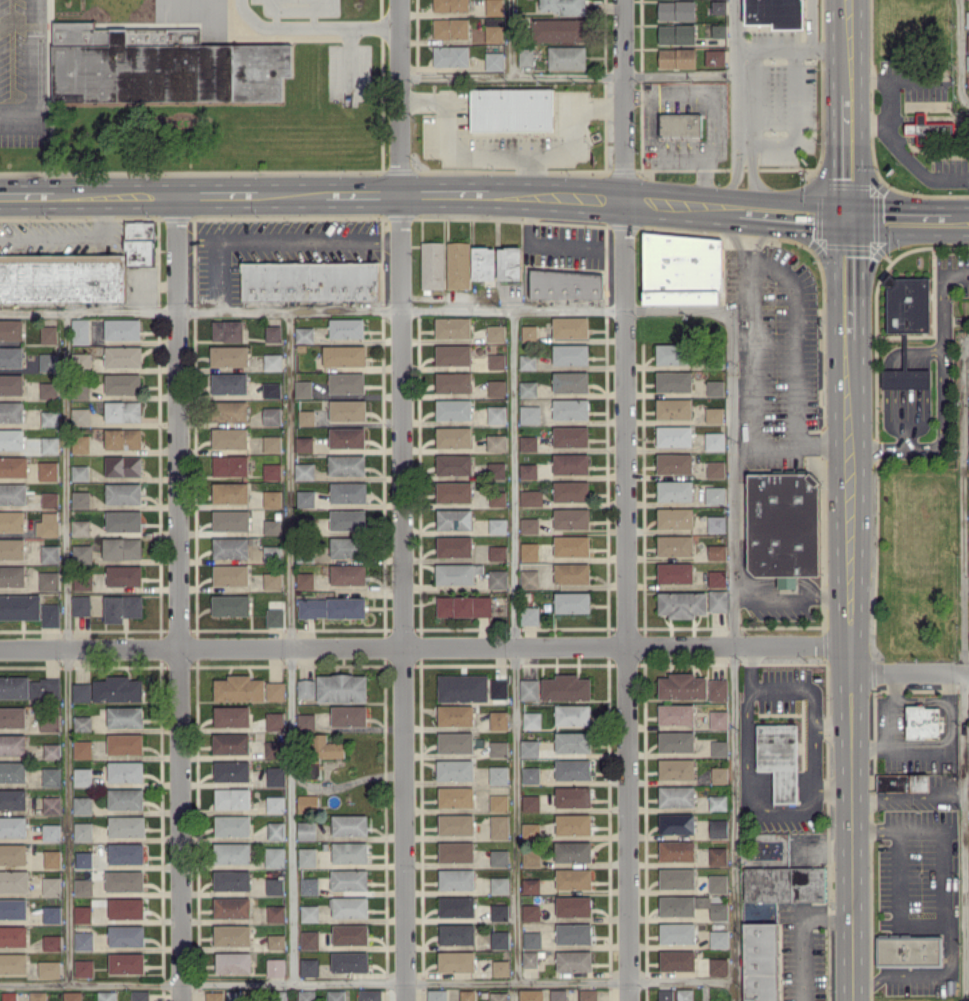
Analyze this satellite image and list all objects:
building: (450, 5)
road: (290, 6)
building: (564, 6)
building: (494, 7)
building: (676, 10)
building: (775, 11)
road: (313, 12)
road: (274, 16)
building: (967, 18)
road: (809, 24)
road: (313, 25)
building: (450, 27)
building: (490, 29)
building: (559, 29)
building: (718, 30)
building: (677, 33)
road: (511, 37)
building: (967, 42)
road: (845, 47)
road: (790, 48)
road: (959, 51)
road: (347, 54)
building: (450, 55)
road: (35, 56)
building: (525, 56)
building: (566, 57)
building: (677, 57)
building: (715, 57)
building: (493, 60)
building: (967, 61)
building: (162, 65)
road: (560, 73)
road: (735, 73)
road: (893, 78)
road: (399, 97)
road: (753, 97)
road: (623, 99)
road: (887, 101)
road: (964, 103)
building: (512, 109)
road: (17, 112)
road: (795, 121)
building: (680, 124)
building: (929, 129)
road: (576, 130)
road: (903, 152)
road: (677, 153)
road: (456, 154)
road: (846, 159)
road: (731, 175)
road: (755, 178)
traffic signals: (872, 179)
road: (887, 190)
road: (448, 194)
road: (291, 195)
road: (362, 195)
road: (117, 196)
road: (218, 196)
road: (28, 197)
road: (619, 198)
road: (794, 215)
road: (893, 221)
road: (955, 221)
traffic signals: (846, 222)
road: (732, 234)
road: (70, 236)
road: (760, 237)
road: (196, 239)
road: (291, 239)
road: (383, 240)
building: (140, 242)
road: (551, 246)
traffic signals: (817, 248)
traffic signals: (878, 252)
road: (821, 258)
road: (872, 261)
building: (483, 263)
building: (509, 263)
building: (432, 264)
building: (458, 264)
building: (682, 268)
road: (215, 276)
building: (62, 277)
road: (846, 279)
building: (309, 280)
building: (566, 284)
building: (908, 304)
road: (364, 312)
building: (570, 326)
building: (346, 327)
building: (453, 327)
building: (122, 328)
building: (11, 329)
building: (80, 330)
building: (227, 330)
building: (272, 333)
building: (495, 333)
building: (529, 333)
road: (967, 333)
building: (48, 334)
building: (304, 334)
road: (792, 339)
building: (672, 353)
building: (453, 354)
building: (570, 354)
building: (123, 355)
building: (229, 355)
building: (344, 355)
building: (11, 356)
building: (81, 359)
building: (48, 361)
building: (272, 361)
building: (527, 361)
building: (905, 378)
building: (673, 380)
building: (453, 381)
building: (570, 381)
building: (346, 382)
building: (11, 383)
building: (123, 383)
building: (229, 383)
building: (496, 387)
building: (715, 387)
building: (302, 388)
building: (527, 388)
building: (48, 389)
building: (271, 389)
road: (942, 391)
road: (751, 400)
building: (968, 404)
building: (570, 408)
building: (673, 408)
building: (348, 409)
building: (453, 409)
building: (123, 410)
building: (231, 410)
building: (11, 411)
building: (80, 414)
building: (529, 414)
building: (714, 414)
building: (272, 415)
building: (306, 416)
building: (49, 418)
building: (968, 433)
building: (673, 435)
building: (346, 436)
building: (453, 436)
building: (570, 436)
building: (229, 437)
building: (11, 438)
building: (123, 438)
building: (714, 440)
building: (496, 442)
building: (527, 442)
building: (80, 443)
building: (272, 443)
building: (304, 443)
building: (49, 444)
building: (968, 458)
building: (674, 462)
building: (570, 463)
building: (346, 464)
building: (454, 464)
building: (123, 465)
building: (230, 465)
building: (13, 466)
building: (715, 468)
building: (48, 470)
building: (271, 470)
building: (304, 470)
building: (496, 470)
building: (527, 470)
building: (79, 472)
building: (570, 490)
building: (674, 490)
building: (348, 491)
building: (453, 491)
building: (230, 492)
building: (12, 493)
building: (123, 493)
building: (714, 495)
building: (530, 497)
building: (80, 498)
building: (272, 498)
building: (305, 498)
building: (497, 498)
building: (49, 499)
building: (571, 517)
building: (674, 517)
building: (231, 519)
building: (347, 519)
building: (454, 519)
building: (11, 520)
building: (123, 520)
building: (783, 522)
building: (715, 523)
building: (47, 524)
building: (497, 525)
building: (529, 525)
building: (272, 526)
building: (80, 527)
building: (968, 539)
building: (571, 545)
building: (674, 545)
building: (345, 546)
building: (454, 546)
building: (121, 547)
building: (230, 547)
building: (11, 548)
building: (529, 550)
building: (716, 551)
building: (272, 552)
building: (497, 552)
building: (49, 553)
building: (82, 553)
building: (968, 568)
building: (571, 572)
building: (674, 572)
building: (347, 573)
building: (456, 573)
building: (230, 574)
building: (12, 575)
building: (123, 575)
building: (497, 578)
building: (529, 578)
building: (716, 578)
building: (48, 580)
building: (272, 580)
building: (304, 580)
building: (81, 582)
road: (790, 595)
road: (401, 597)
road: (178, 598)
road: (626, 599)
building: (717, 600)
building: (572, 602)
building: (681, 603)
building: (230, 604)
building: (81, 605)
building: (463, 605)
building: (122, 607)
building: (331, 607)
building: (29, 608)
building: (529, 614)
building: (275, 617)
road: (511, 646)
road: (289, 647)
road: (67, 648)
road: (424, 650)
road: (731, 655)
road: (966, 667)
road: (849, 669)
road: (909, 674)
building: (682, 686)
building: (28, 687)
building: (341, 687)
building: (462, 687)
building: (566, 687)
building: (239, 688)
building: (305, 688)
building: (498, 688)
building: (117, 689)
building: (529, 689)
building: (717, 689)
road: (799, 689)
building: (274, 690)
building: (81, 691)
road: (885, 709)
building: (675, 713)
building: (572, 714)
building: (231, 715)
building: (349, 715)
building: (455, 715)
building: (12, 716)
building: (125, 716)
building: (498, 719)
building: (531, 719)
building: (718, 719)
building: (274, 720)
building: (306, 721)
building: (922, 721)
building: (49, 723)
building: (82, 723)
building: (572, 741)
building: (675, 741)
building: (455, 742)
building: (125, 743)
building: (230, 743)
building: (12, 744)
building: (326, 747)
building: (82, 748)
building: (275, 748)
building: (498, 748)
building: (529, 748)
building: (719, 748)
building: (51, 750)
road: (900, 750)
building: (779, 758)
road: (810, 759)
building: (676, 768)
building: (313, 769)
building: (454, 769)
building: (572, 769)
building: (231, 770)
building: (12, 771)
building: (125, 771)
building: (498, 774)
building: (530, 774)
building: (718, 774)
building: (51, 776)
building: (82, 776)
building: (275, 776)
building: (902, 782)
road: (748, 785)
road: (830, 788)
building: (455, 796)
building: (572, 796)
building: (676, 796)
road: (909, 796)
building: (12, 798)
building: (125, 798)
building: (232, 798)
building: (498, 802)
building: (530, 802)
building: (717, 802)
building: (275, 803)
building: (307, 803)
building: (51, 804)
building: (82, 804)
building: (573, 823)
building: (676, 823)
building: (349, 824)
building: (455, 824)
building: (126, 825)
building: (232, 825)
building: (12, 826)
building: (499, 826)
building: (718, 828)
road: (874, 828)
building: (275, 830)
building: (306, 830)
building: (530, 830)
building: (51, 831)
building: (82, 831)
road: (821, 847)
building: (676, 850)
building: (456, 851)
building: (572, 851)
road: (943, 851)
building: (125, 852)
building: (231, 852)
building: (349, 852)
building: (13, 853)
building: (717, 855)
building: (274, 856)
building: (307, 856)
building: (499, 857)
building: (530, 857)
building: (52, 858)
building: (83, 859)
building: (676, 877)
building: (456, 878)
building: (573, 878)
building: (231, 879)
building: (348, 879)
building: (14, 880)
building: (124, 880)
building: (717, 883)
building: (784, 883)
building: (51, 885)
building: (274, 885)
building: (309, 885)
building: (499, 885)
building: (530, 885)
building: (83, 886)
road: (898, 897)
building: (573, 905)
building: (349, 906)
building: (456, 906)
building: (691, 906)
building: (13, 907)
building: (126, 907)
building: (231, 907)
building: (499, 911)
building: (309, 912)
building: (530, 912)
building: (275, 913)
building: (51, 914)
building: (82, 914)
road: (799, 931)
building: (677, 932)
building: (350, 933)
building: (456, 933)
building: (573, 933)
building: (231, 934)
building: (13, 935)
building: (126, 935)
building: (719, 938)
building: (309, 939)
building: (499, 939)
building: (532, 939)
building: (83, 940)
building: (276, 941)
building: (51, 942)
road: (950, 946)
building: (908, 950)
building: (529, 958)
building: (677, 959)
building: (456, 960)
building: (573, 960)
building: (349, 961)
building: (760, 961)
building: (13, 962)
building: (126, 962)
building: (233, 962)
building: (718, 965)
building: (275, 966)
building: (308, 966)
building: (83, 967)
building: (500, 967)
building: (48, 968)
road: (898, 973)
road: (367, 983)
building: (436, 994)
building: (531, 994)
building: (557, 994)
building: (587, 994)
building: (665, 994)
building: (684, 994)
building: (9, 995)
building: (37, 995)
building: (72, 995)
building: (106, 995)
building: (139, 995)
building: (214, 995)
building: (234, 995)
building: (306, 995)
building: (336, 995)
building: (369, 995)
building: (467, 995)
building: (498, 996)

